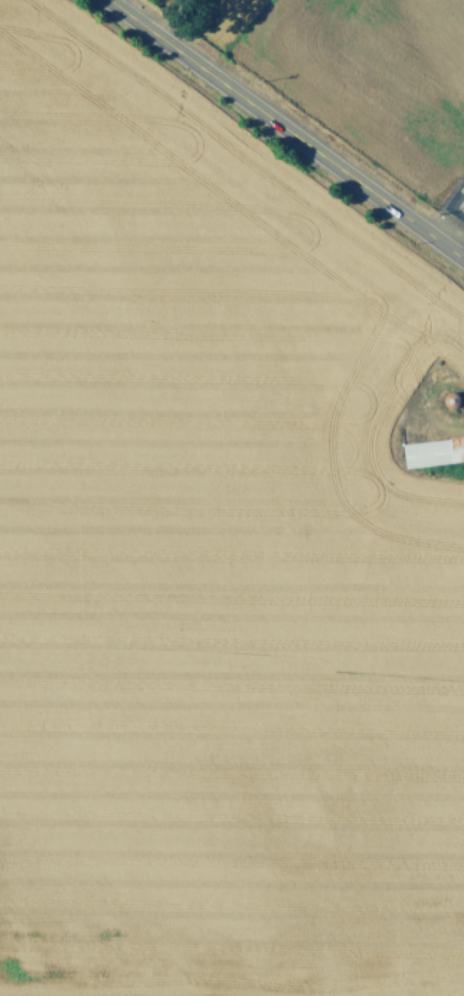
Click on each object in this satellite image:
road: (164, 14)
crop: (358, 76)
road: (288, 128)
building: (461, 185)
power substation: (455, 200)
building: (463, 203)
road: (447, 212)
building: (452, 396)
silo: (452, 396)
building: (435, 447)
crop: (212, 558)

